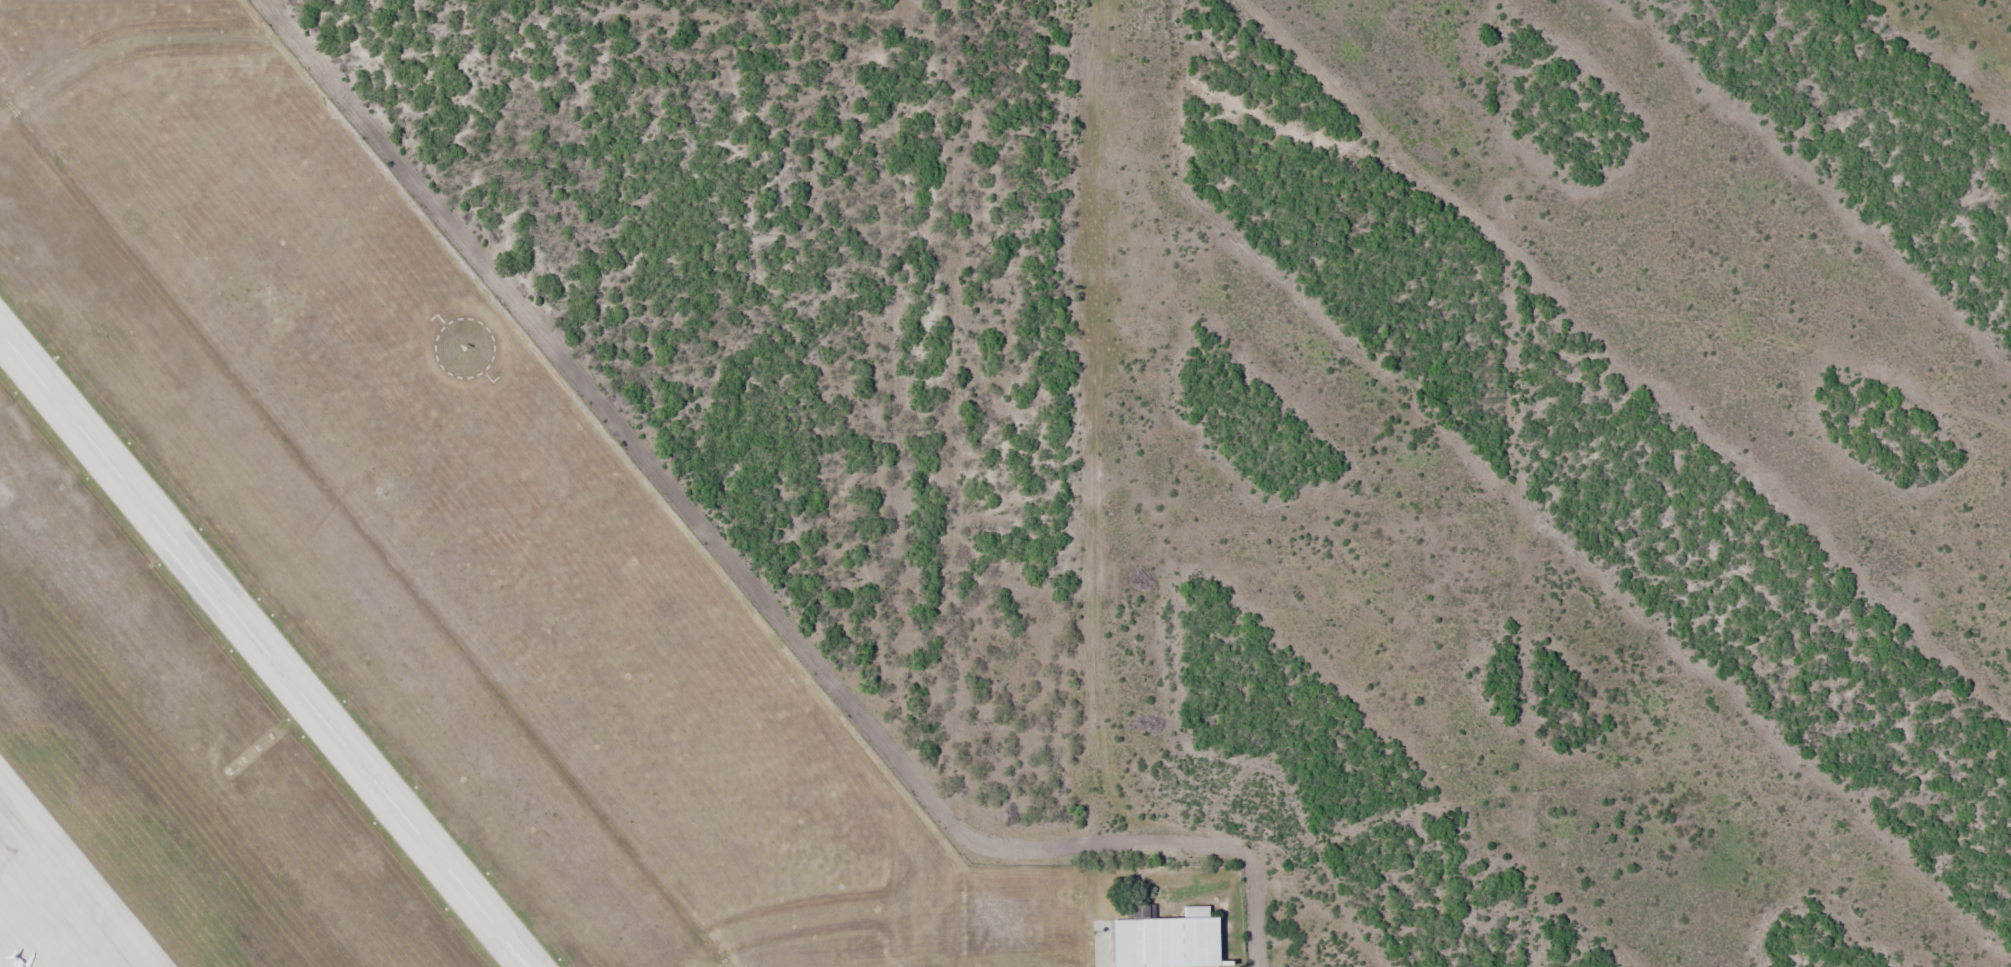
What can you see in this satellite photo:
airport runway: (269, 645)
airport runway: (263, 648)
airport apron: (53, 903)
building: (1182, 933)

